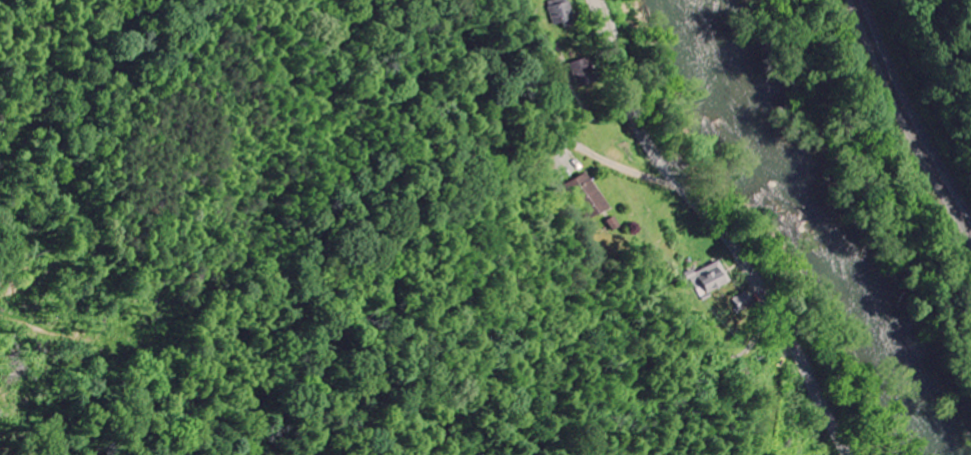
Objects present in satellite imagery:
building: (566, 13)
railway: (906, 123)
river: (838, 213)
road: (721, 227)
building: (714, 280)

